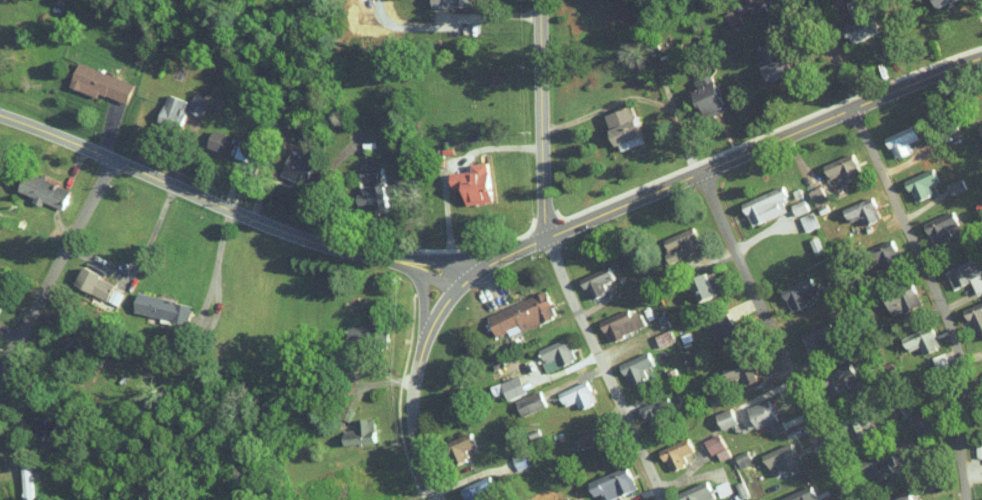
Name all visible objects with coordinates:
building: (939, 2)
building: (448, 3)
building: (753, 6)
road: (979, 8)
road: (496, 16)
building: (856, 21)
road: (837, 54)
building: (771, 61)
building: (98, 83)
building: (706, 96)
road: (638, 98)
building: (171, 112)
road: (541, 118)
road: (105, 127)
building: (621, 128)
road: (726, 132)
road: (766, 132)
building: (899, 141)
building: (219, 143)
road: (719, 163)
road: (877, 166)
building: (294, 167)
building: (841, 168)
road: (37, 171)
road: (446, 172)
road: (234, 183)
building: (471, 183)
building: (953, 186)
building: (920, 187)
building: (370, 188)
building: (41, 190)
road: (261, 193)
road: (159, 204)
building: (763, 205)
road: (876, 205)
building: (797, 207)
road: (917, 209)
road: (122, 210)
road: (227, 210)
building: (860, 211)
road: (335, 215)
building: (806, 221)
building: (940, 226)
road: (759, 235)
building: (678, 244)
building: (814, 245)
road: (480, 247)
road: (939, 250)
building: (885, 254)
road: (713, 256)
road: (217, 260)
road: (903, 264)
road: (56, 266)
building: (965, 274)
building: (594, 282)
building: (703, 285)
building: (97, 287)
building: (797, 293)
road: (428, 297)
road: (937, 297)
building: (905, 298)
road: (958, 302)
road: (592, 305)
building: (159, 308)
road: (924, 313)
building: (520, 314)
building: (975, 319)
building: (619, 324)
building: (722, 328)
road: (9, 334)
building: (817, 334)
road: (772, 336)
building: (663, 338)
building: (918, 342)
building: (554, 354)
road: (954, 355)
road: (971, 357)
road: (590, 360)
building: (938, 361)
road: (805, 363)
building: (634, 368)
road: (603, 369)
building: (738, 375)
road: (774, 376)
road: (356, 378)
building: (842, 378)
road: (575, 380)
road: (412, 386)
building: (511, 387)
road: (765, 394)
building: (575, 395)
building: (528, 403)
road: (637, 403)
building: (653, 410)
road: (828, 410)
road: (612, 413)
building: (919, 413)
road: (19, 417)
building: (763, 417)
building: (723, 418)
building: (358, 432)
building: (590, 440)
park: (172, 446)
building: (459, 447)
building: (714, 447)
building: (903, 449)
building: (673, 454)
building: (741, 459)
building: (780, 459)
building: (881, 465)
road: (684, 473)
road: (701, 475)
road: (470, 477)
building: (24, 480)
building: (611, 484)
building: (476, 489)
building: (721, 489)
building: (695, 492)
road: (640, 493)
building: (799, 495)
building: (902, 497)

